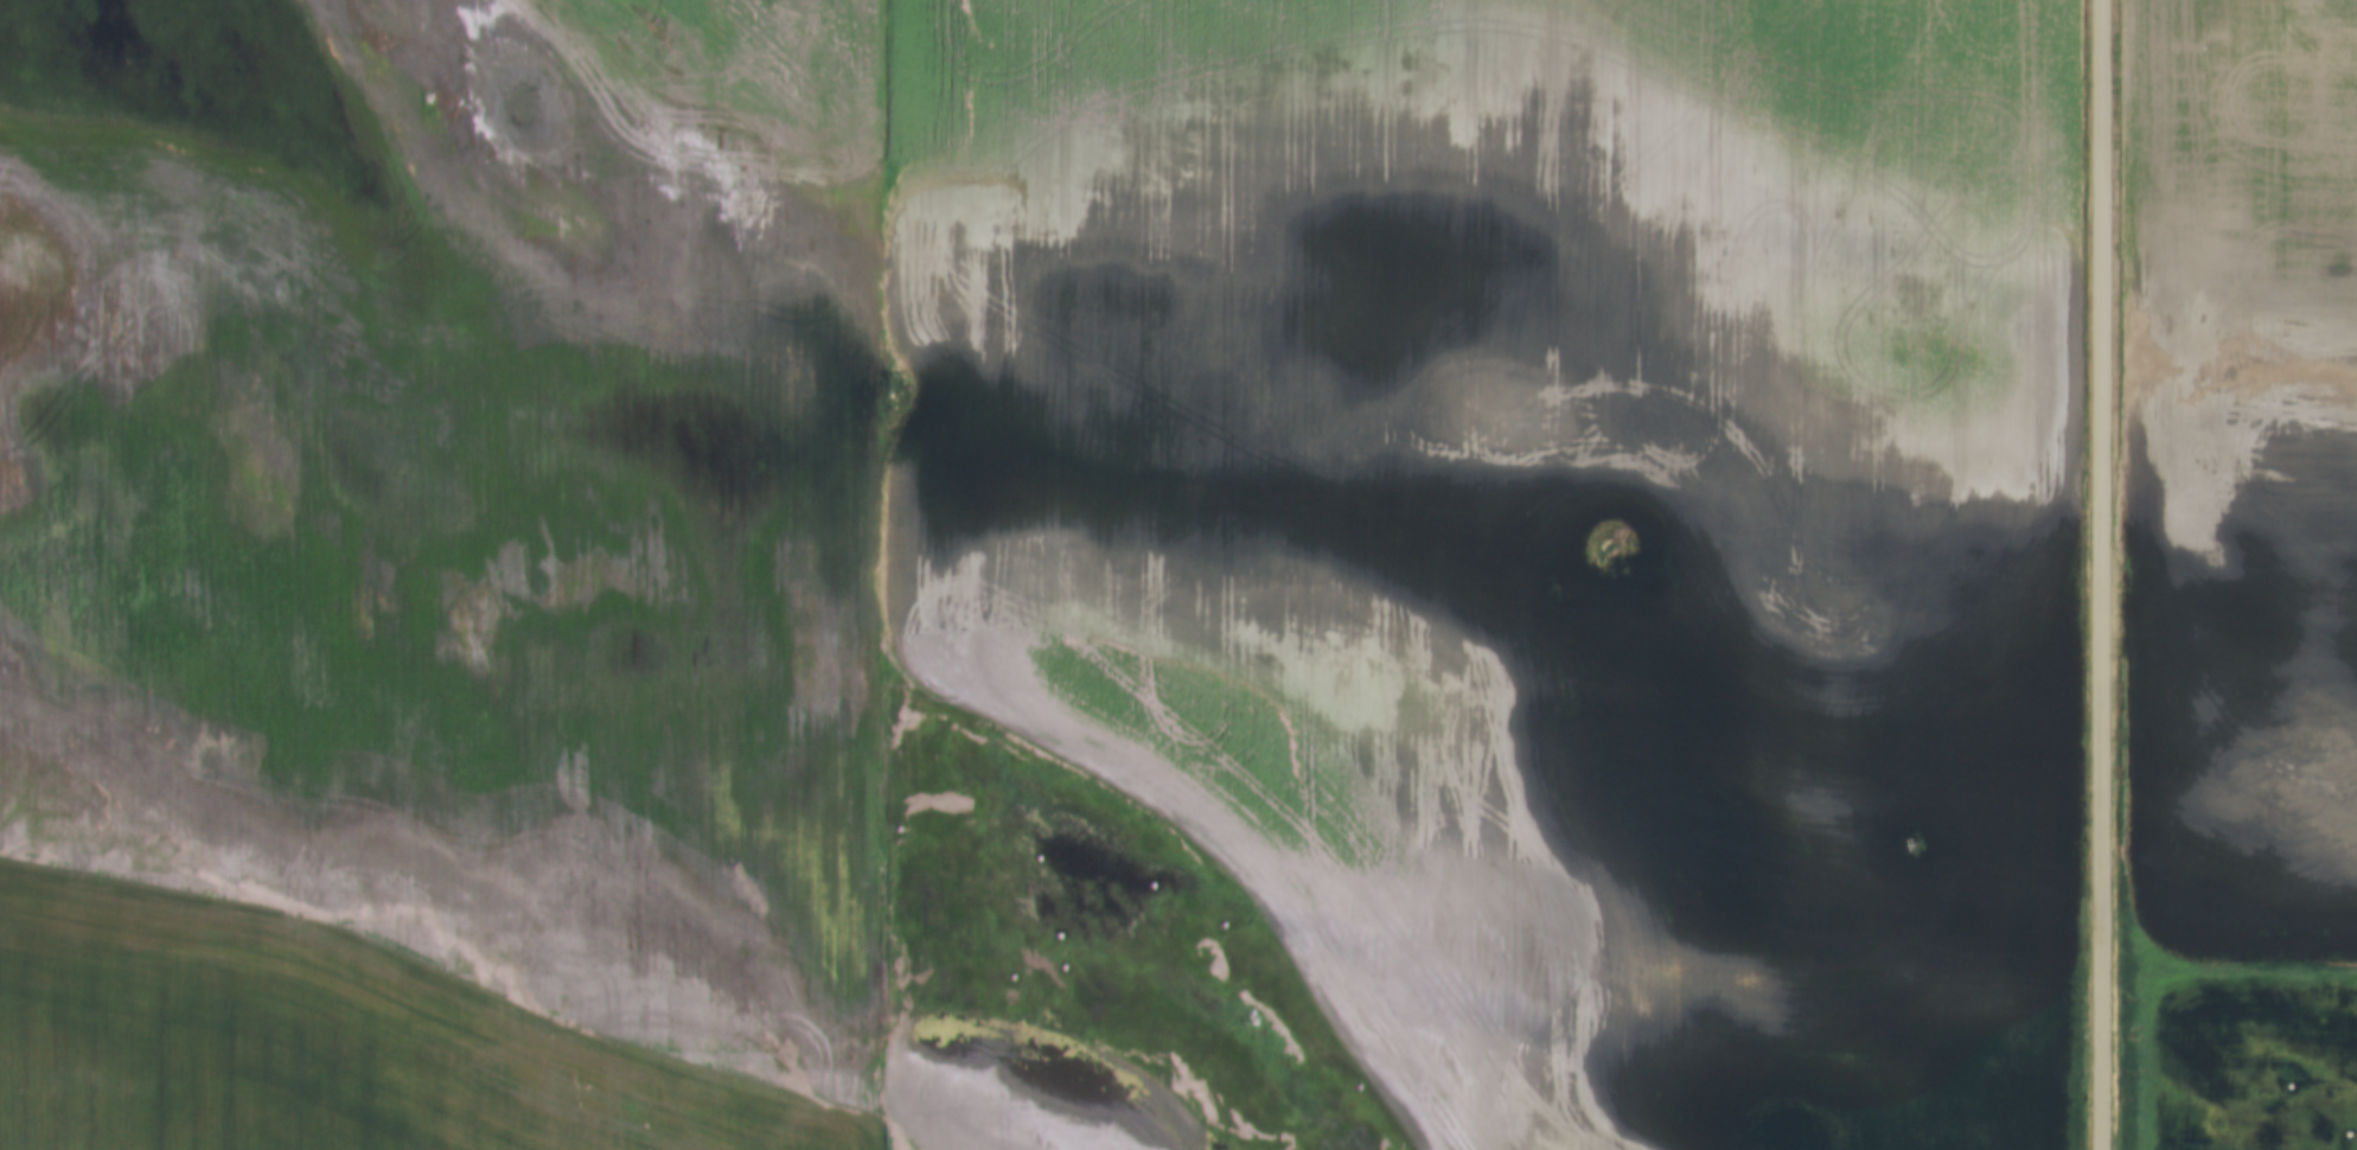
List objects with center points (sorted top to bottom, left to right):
road: (2101, 575)

